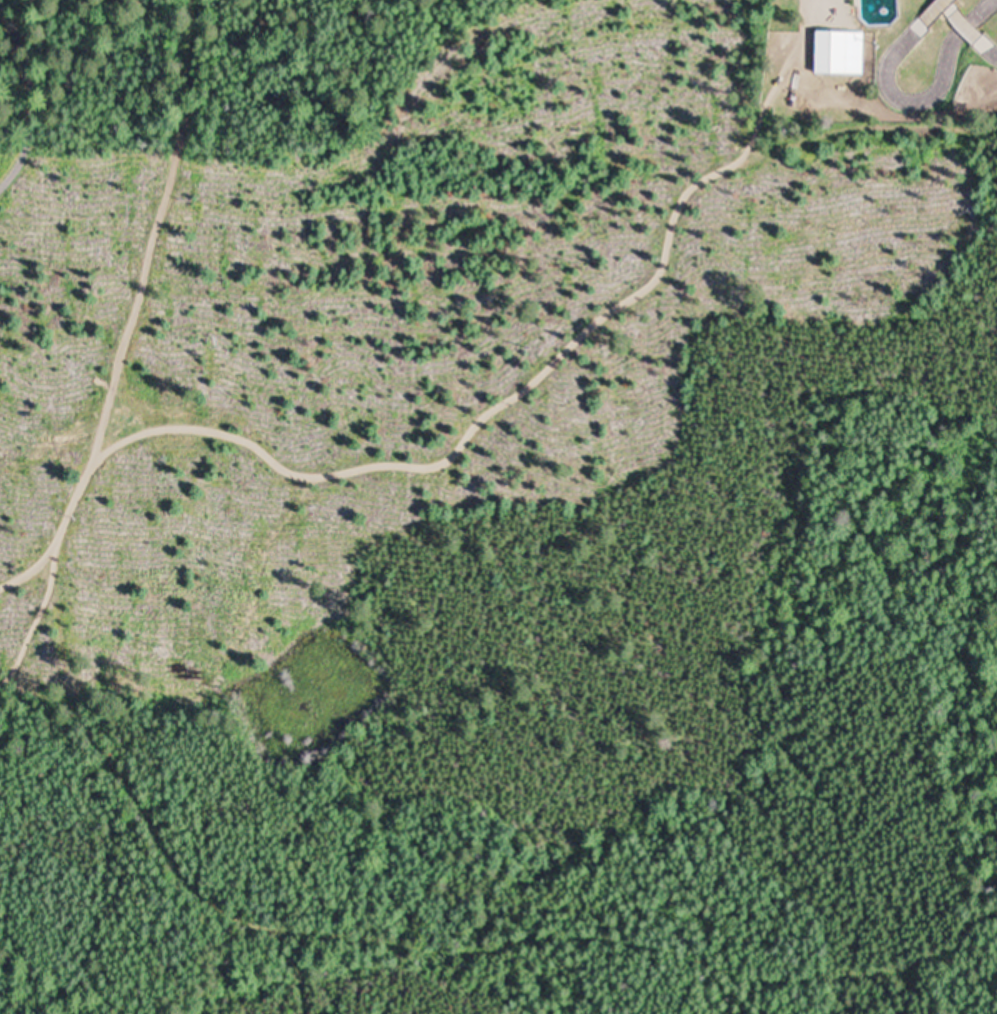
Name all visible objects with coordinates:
building: (844, 54)
road: (27, 96)

